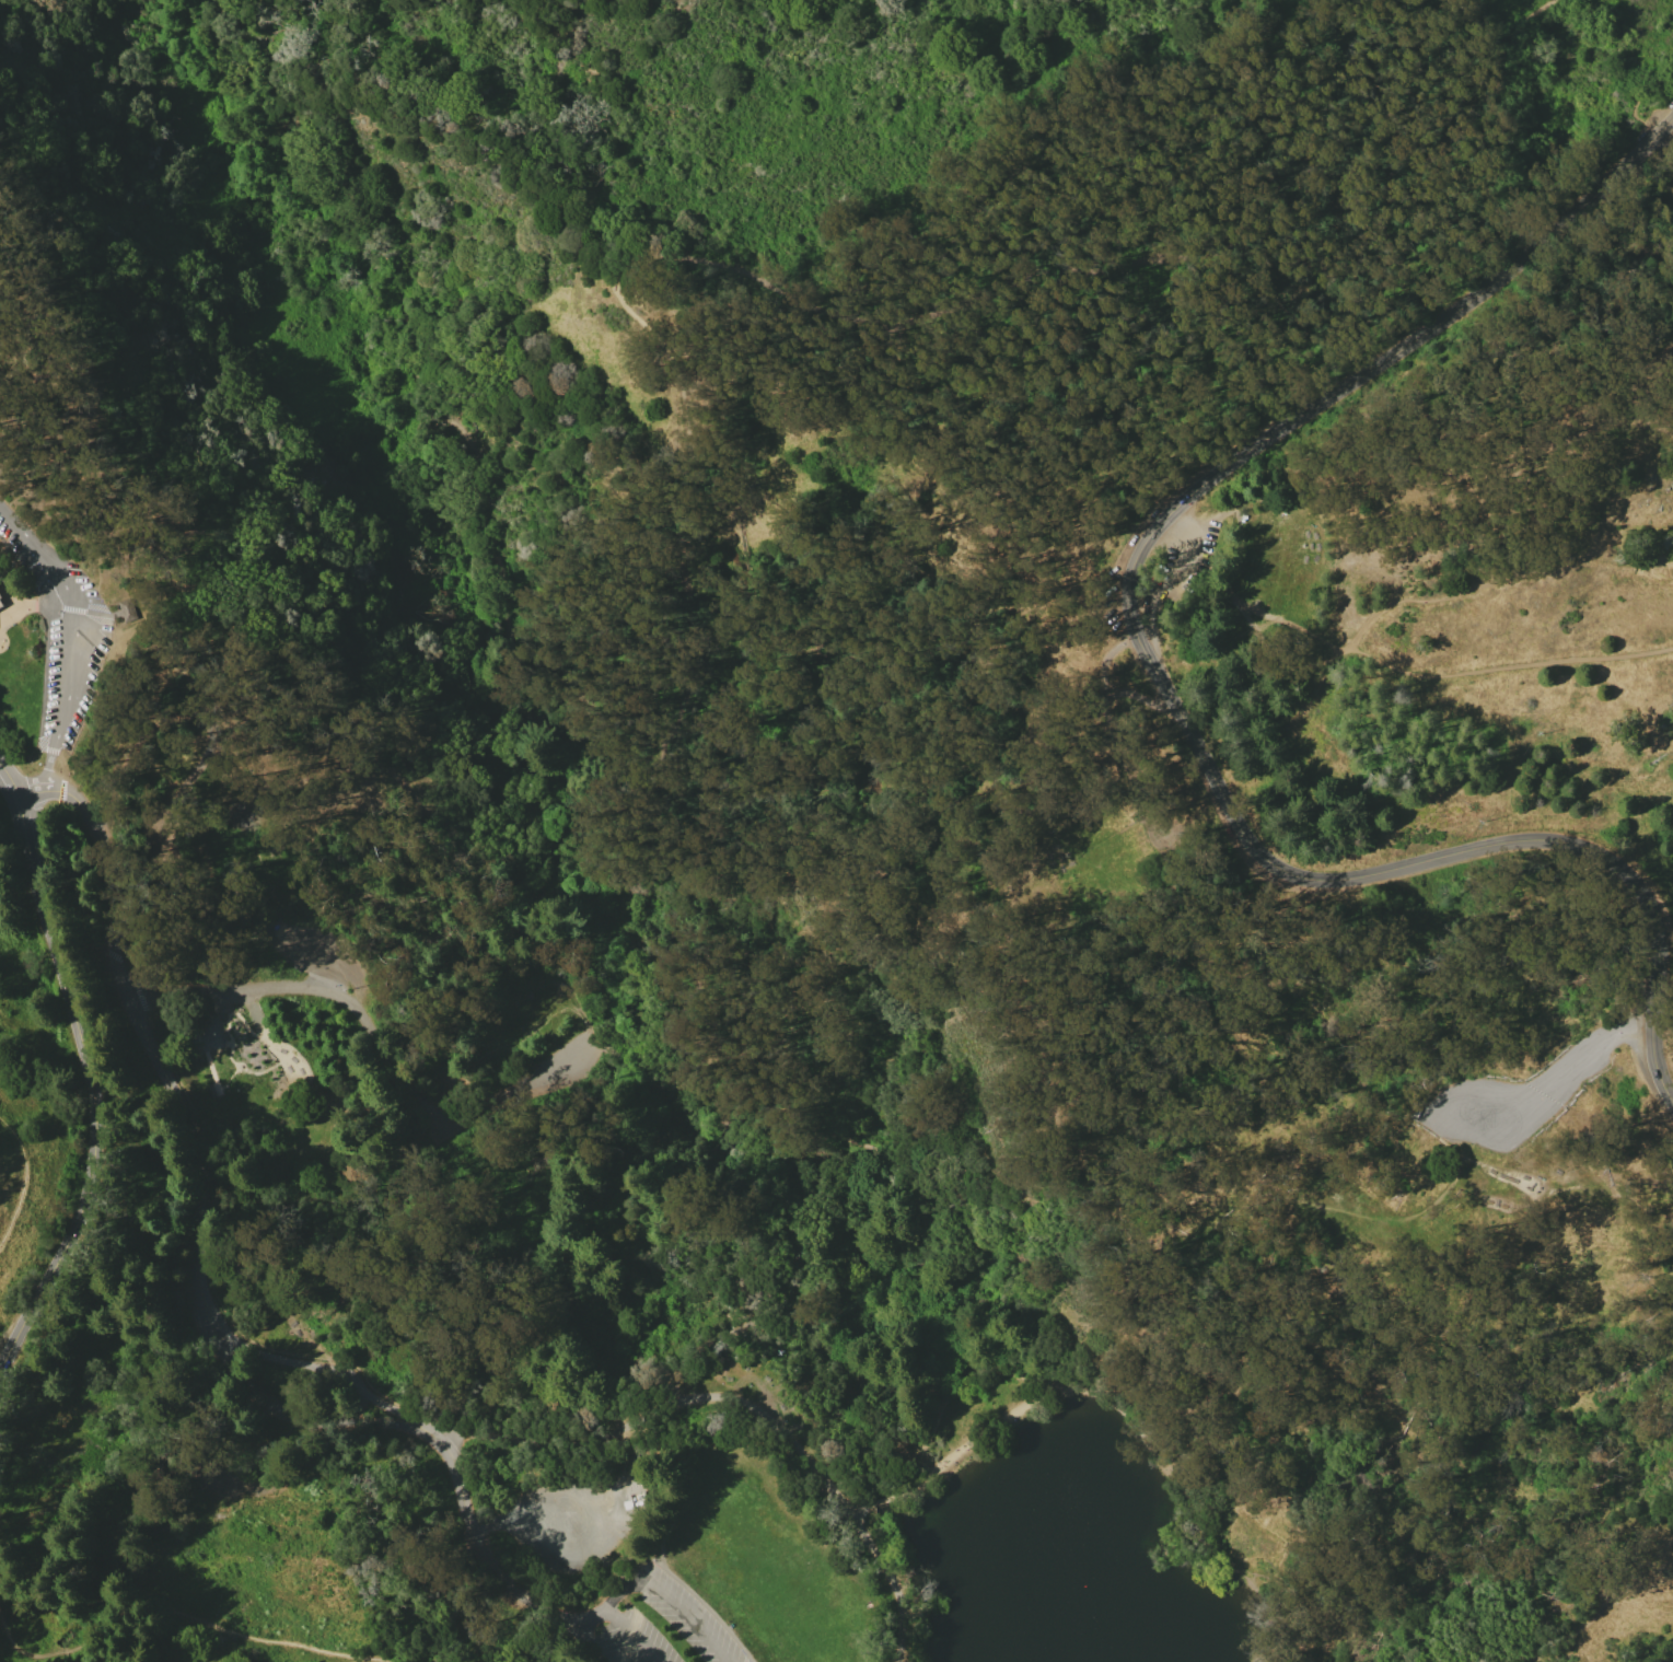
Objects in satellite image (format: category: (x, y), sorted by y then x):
road: (1646, 101)
road: (1665, 128)
road: (1665, 137)
road: (21, 278)
road: (744, 278)
road: (67, 350)
road: (1647, 388)
road: (161, 460)
road: (310, 476)
road: (477, 507)
parking lot: (1188, 543)
road: (1552, 553)
road: (22, 556)
building: (0, 596)
building: (0, 605)
road: (58, 607)
building: (131, 608)
road: (74, 641)
road: (1383, 664)
parking lot: (71, 667)
road: (1166, 690)
road: (181, 717)
road: (1117, 728)
road: (10, 813)
parking lot: (177, 861)
road: (112, 864)
parking lot: (320, 952)
road: (326, 954)
parking lot: (240, 998)
road: (252, 1009)
road: (630, 1020)
road: (388, 1053)
parking lot: (579, 1055)
road: (91, 1079)
road: (1569, 1081)
parking lot: (1523, 1099)
road: (185, 1116)
road: (24, 1181)
road: (330, 1223)
road: (194, 1259)
road: (936, 1290)
road: (722, 1330)
road: (1001, 1369)
road: (751, 1399)
road: (251, 1449)
road: (616, 1456)
road: (913, 1485)
road: (885, 1501)
dam: (882, 1504)
road: (865, 1508)
road: (525, 1518)
parking lot: (574, 1522)
road: (1208, 1541)
road: (477, 1544)
road: (653, 1557)
road: (147, 1562)
road: (640, 1583)
road: (890, 1583)
road: (166, 1604)
road: (1605, 1608)
road: (709, 1609)
parking lot: (653, 1624)
road: (630, 1637)
road: (363, 1660)

